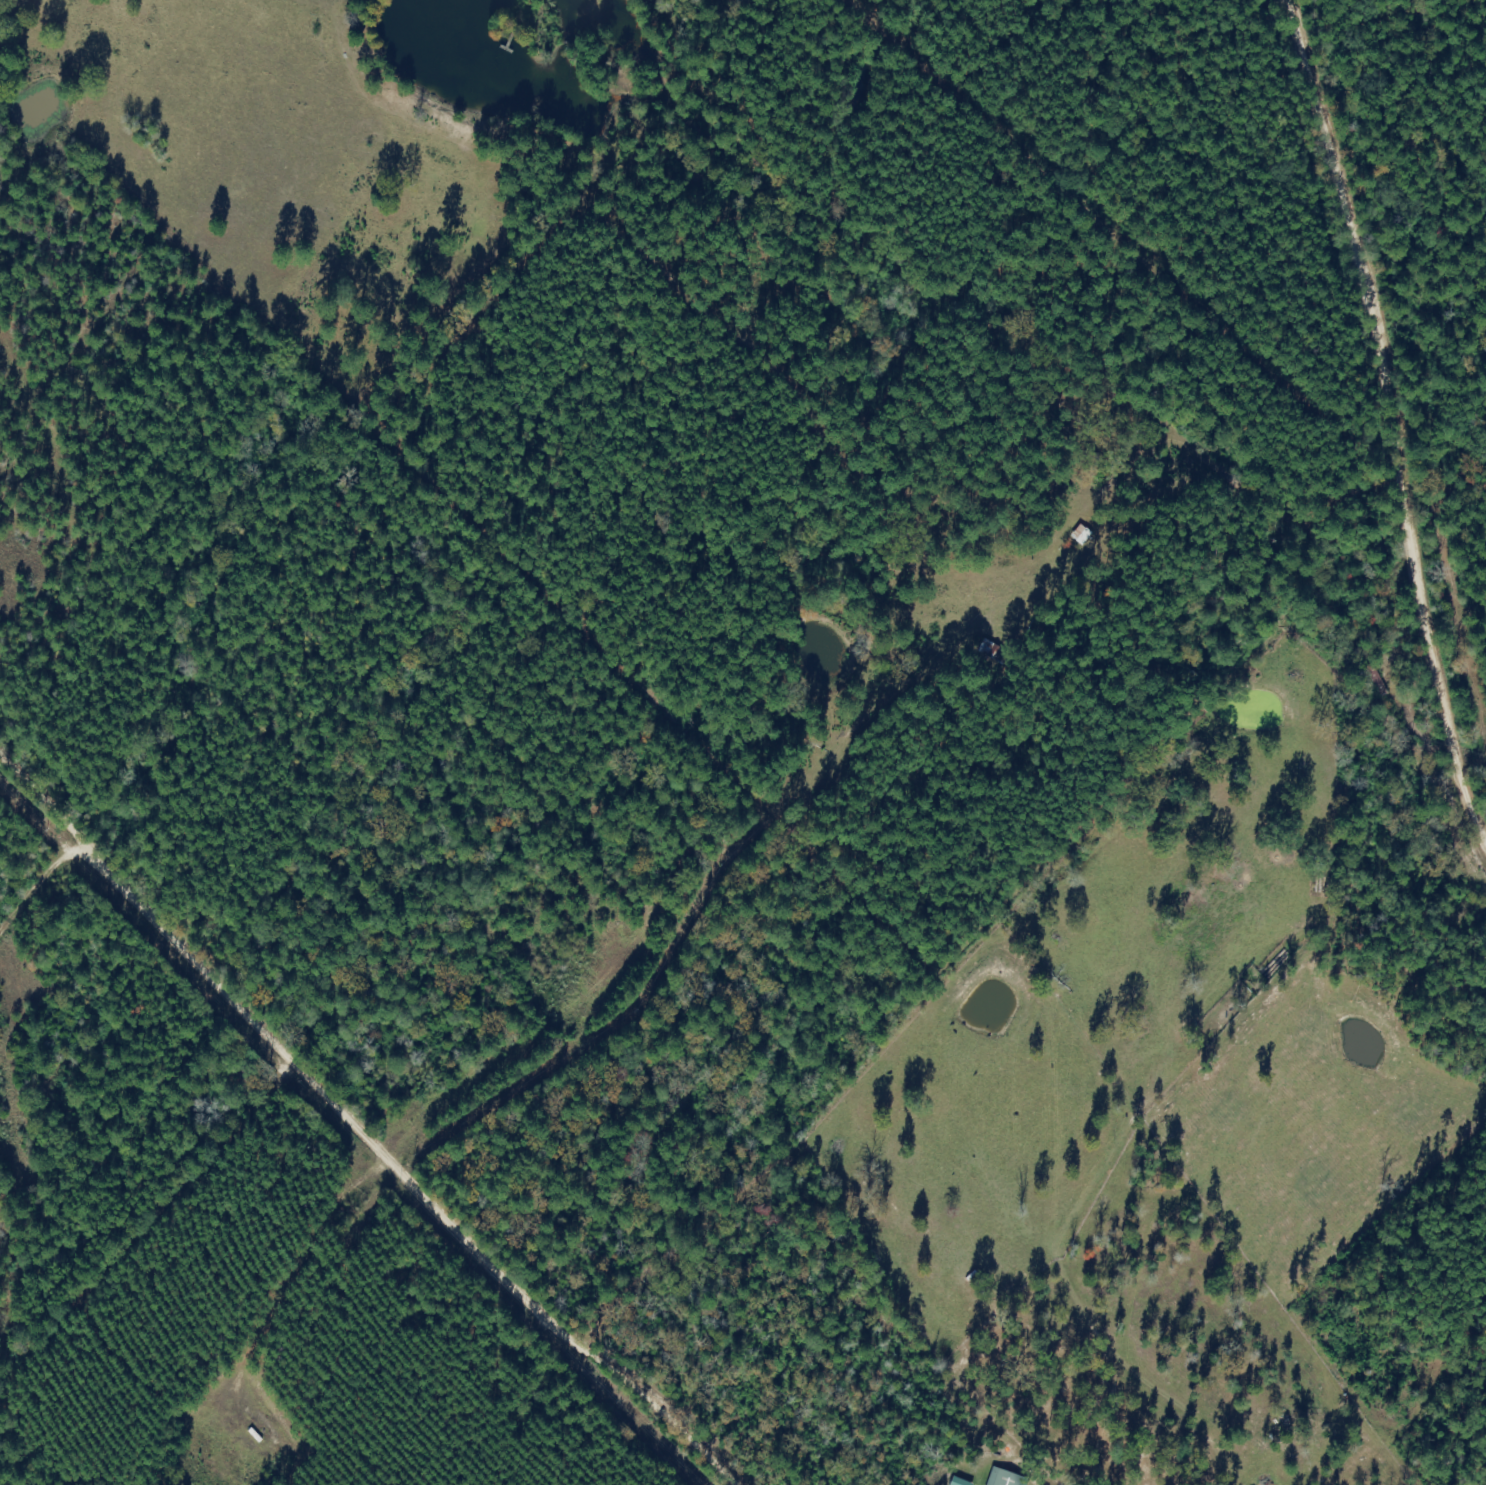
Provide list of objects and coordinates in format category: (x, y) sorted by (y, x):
road: (1399, 417)
road: (1474, 733)
road: (33, 880)
road: (358, 1133)
building: (1009, 1478)
building: (963, 1482)

